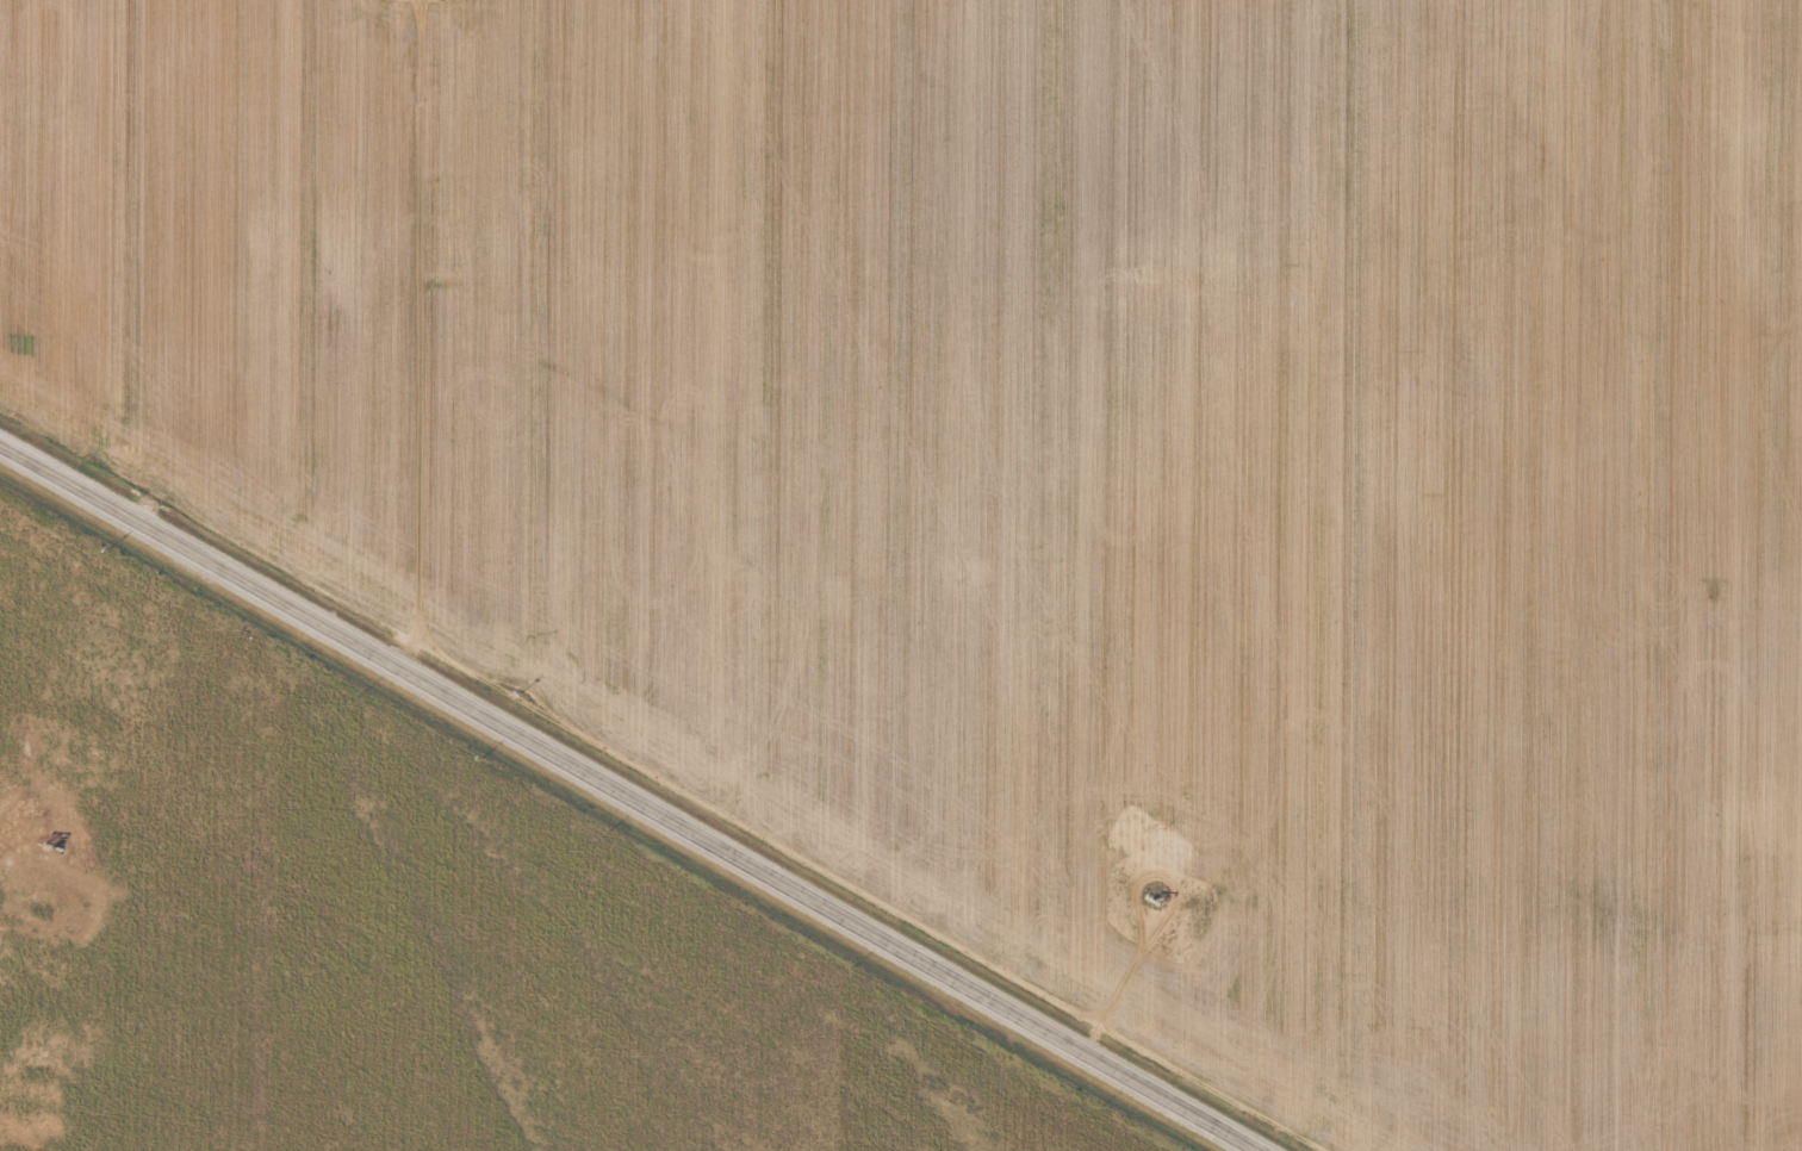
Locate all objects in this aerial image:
road: (632, 796)

